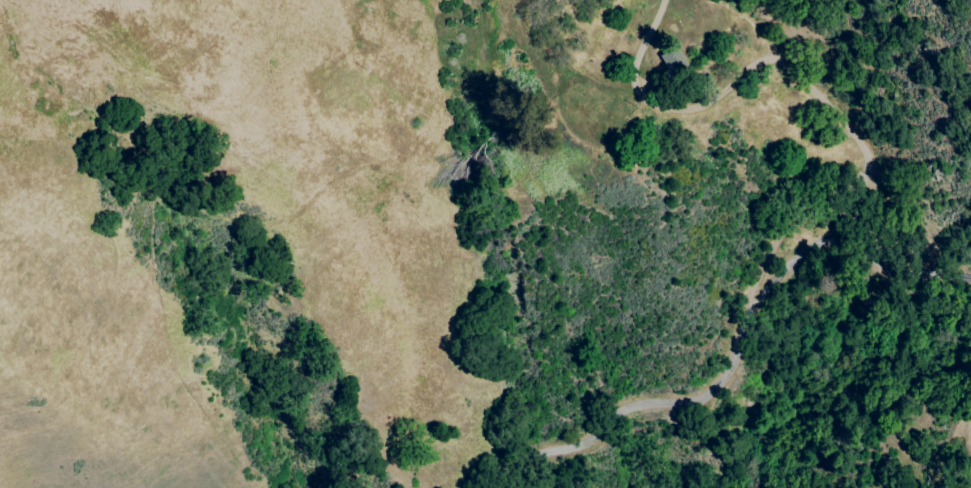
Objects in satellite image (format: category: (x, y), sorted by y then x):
building: (672, 61)
road: (820, 99)
road: (832, 247)
road: (615, 414)
road: (968, 474)

